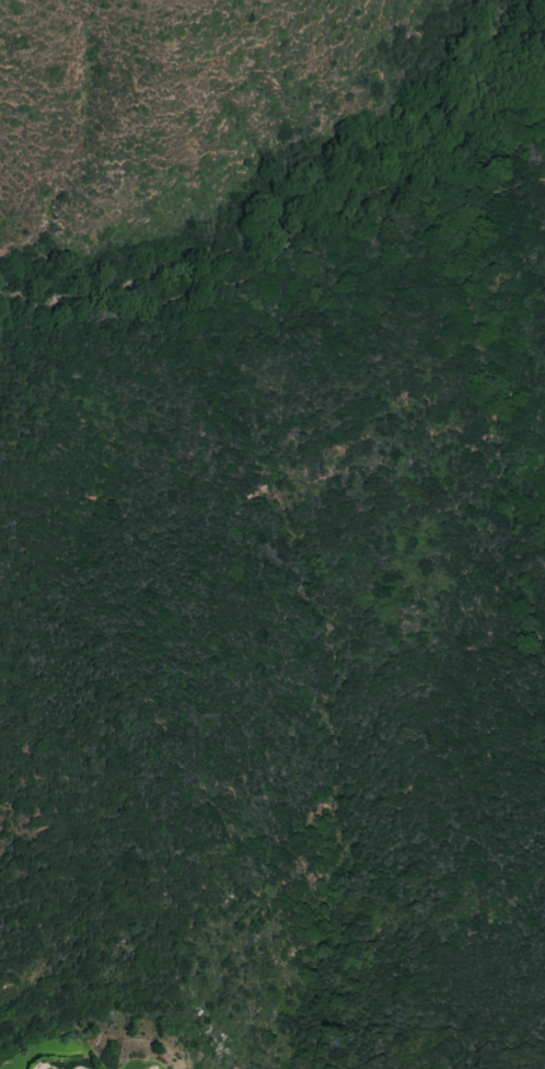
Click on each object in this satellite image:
road: (278, 254)

